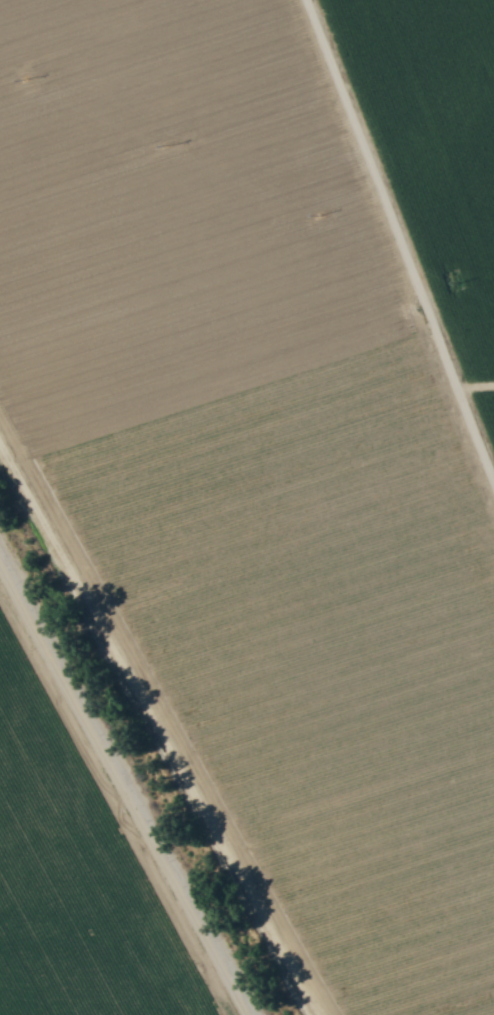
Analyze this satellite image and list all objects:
road: (397, 243)
road: (131, 772)

